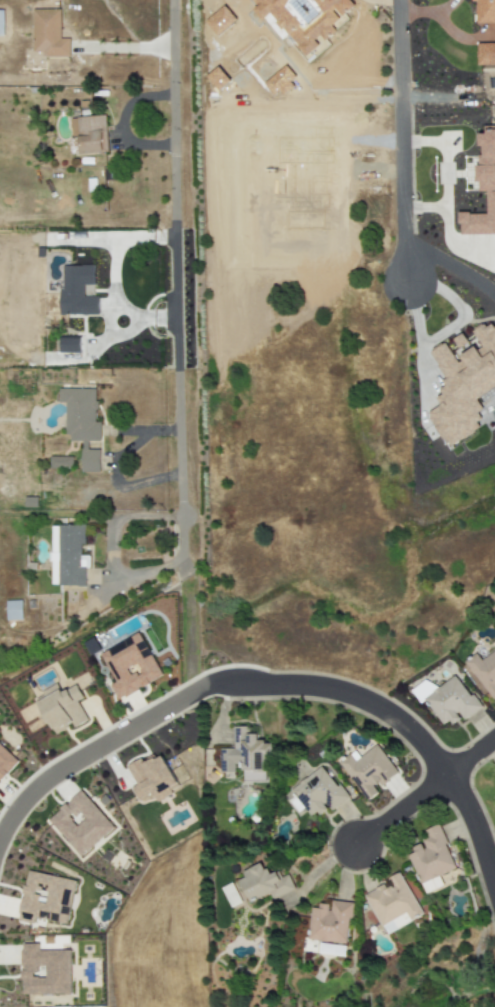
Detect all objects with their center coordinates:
road: (378, 0)
building: (485, 11)
road: (434, 12)
building: (304, 19)
building: (1, 23)
building: (48, 34)
road: (126, 52)
road: (121, 125)
building: (89, 135)
road: (408, 141)
road: (446, 174)
road: (178, 283)
building: (77, 291)
building: (70, 346)
building: (464, 383)
building: (82, 424)
building: (60, 463)
road: (115, 467)
road: (113, 547)
building: (68, 556)
building: (14, 610)
road: (188, 628)
building: (130, 666)
building: (483, 672)
road: (270, 683)
building: (450, 701)
building: (63, 708)
road: (471, 755)
building: (246, 757)
building: (6, 763)
building: (368, 771)
building: (152, 779)
building: (316, 793)
road: (402, 809)
building: (81, 823)
building: (431, 856)
building: (264, 884)
building: (432, 885)
building: (46, 899)
building: (393, 904)
building: (330, 923)
building: (45, 971)

